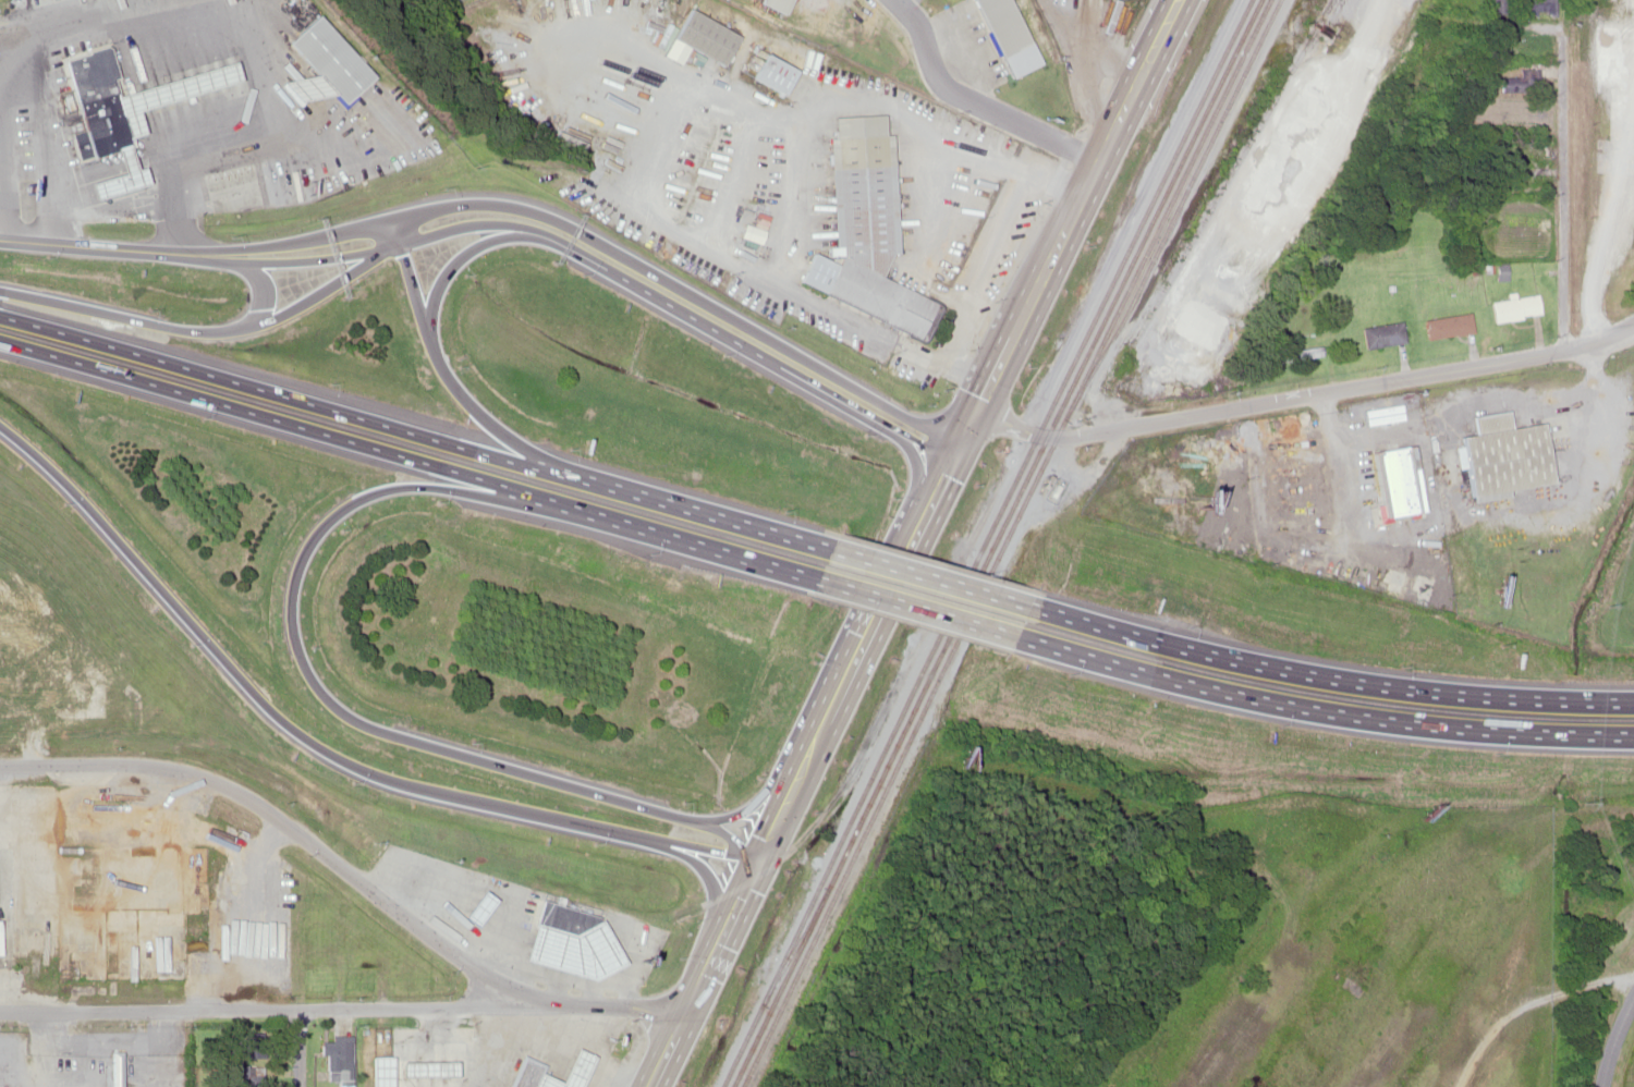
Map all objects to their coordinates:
building: (777, 3)
building: (1500, 5)
building: (1534, 7)
building: (1008, 35)
building: (704, 36)
road: (1499, 57)
building: (329, 59)
building: (772, 73)
building: (1522, 81)
road: (977, 101)
building: (118, 130)
building: (1531, 161)
railway: (1173, 199)
railway: (1186, 203)
railway: (1147, 217)
railway: (1156, 218)
building: (863, 228)
road: (1063, 233)
road: (1561, 237)
road: (302, 239)
road: (392, 245)
road: (86, 248)
road: (461, 256)
road: (207, 257)
road: (410, 273)
road: (261, 288)
road: (702, 298)
building: (1514, 307)
building: (1449, 326)
road: (231, 329)
building: (1383, 334)
road: (746, 346)
road: (1307, 390)
road: (275, 393)
road: (477, 408)
road: (275, 416)
railway: (1068, 418)
building: (1504, 456)
building: (1398, 480)
road: (688, 509)
road: (681, 539)
road: (927, 577)
road: (916, 609)
road: (859, 654)
road: (1327, 677)
building: (60, 699)
road: (344, 708)
road: (1322, 709)
road: (319, 744)
railway: (881, 760)
railway: (890, 761)
railway: (902, 761)
road: (293, 827)
road: (763, 852)
building: (477, 908)
gas station: (477, 908)
building: (562, 918)
road: (719, 941)
railway: (797, 943)
building: (571, 951)
gas station: (571, 951)
road: (341, 1006)
road: (1612, 1040)
road: (302, 1047)
building: (413, 1053)
building: (450, 1053)
road: (664, 1053)
building: (368, 1054)
building: (338, 1061)
building: (496, 1066)
building: (574, 1068)
gas station: (574, 1068)
building: (112, 1070)
building: (526, 1073)
building: (248, 1076)
building: (545, 1082)

